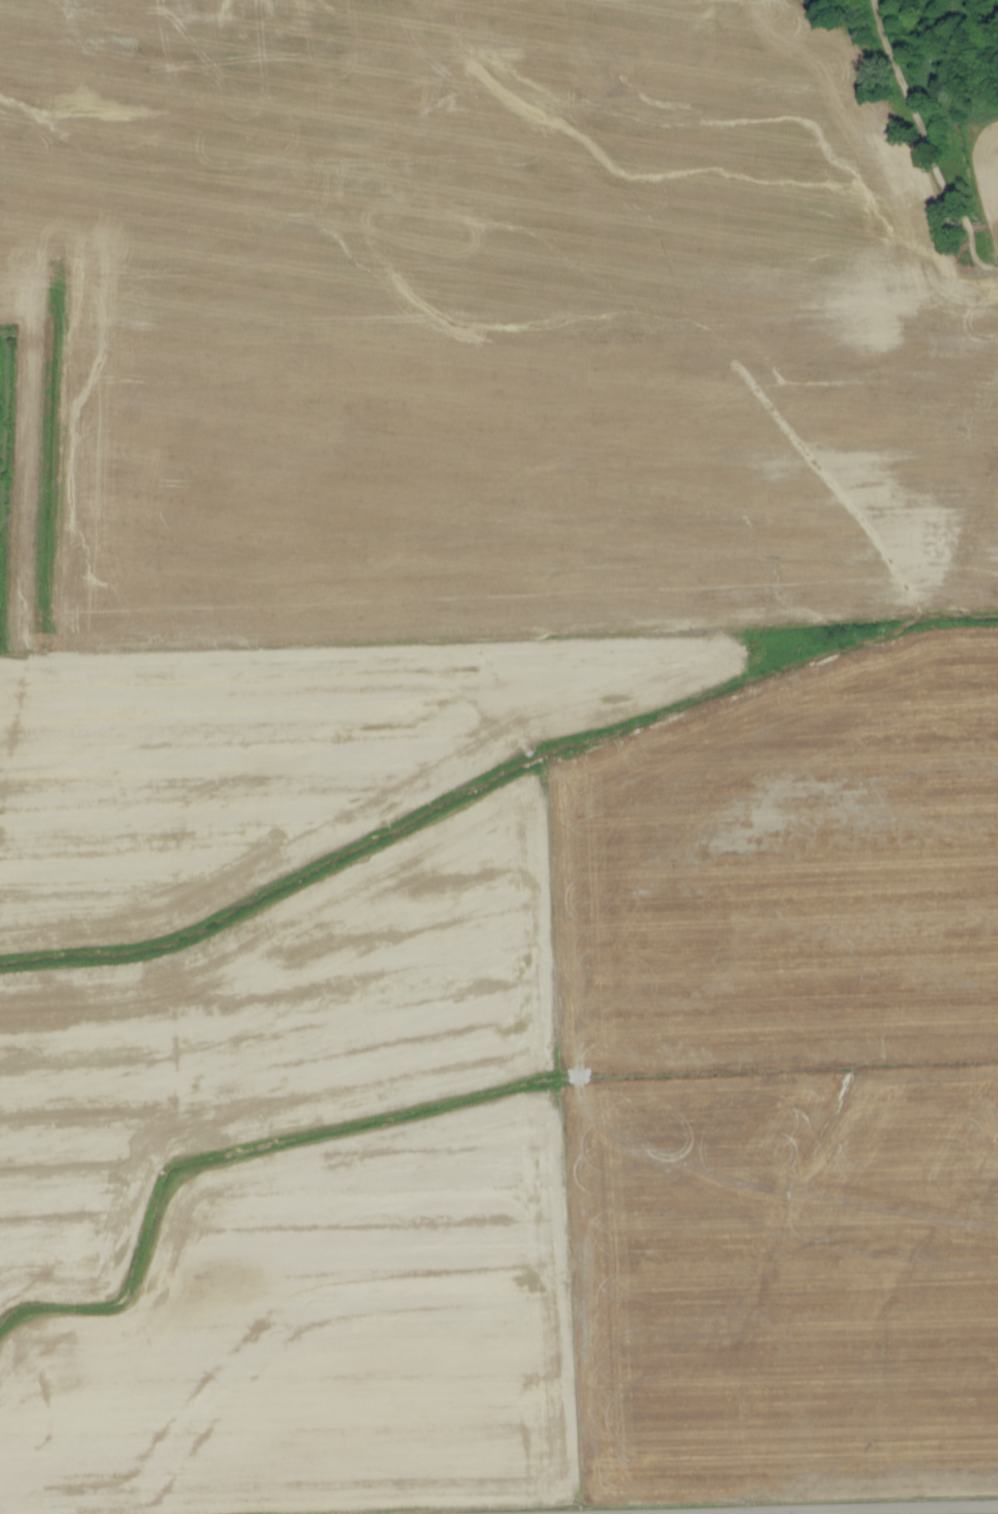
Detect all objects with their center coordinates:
road: (920, 1512)

